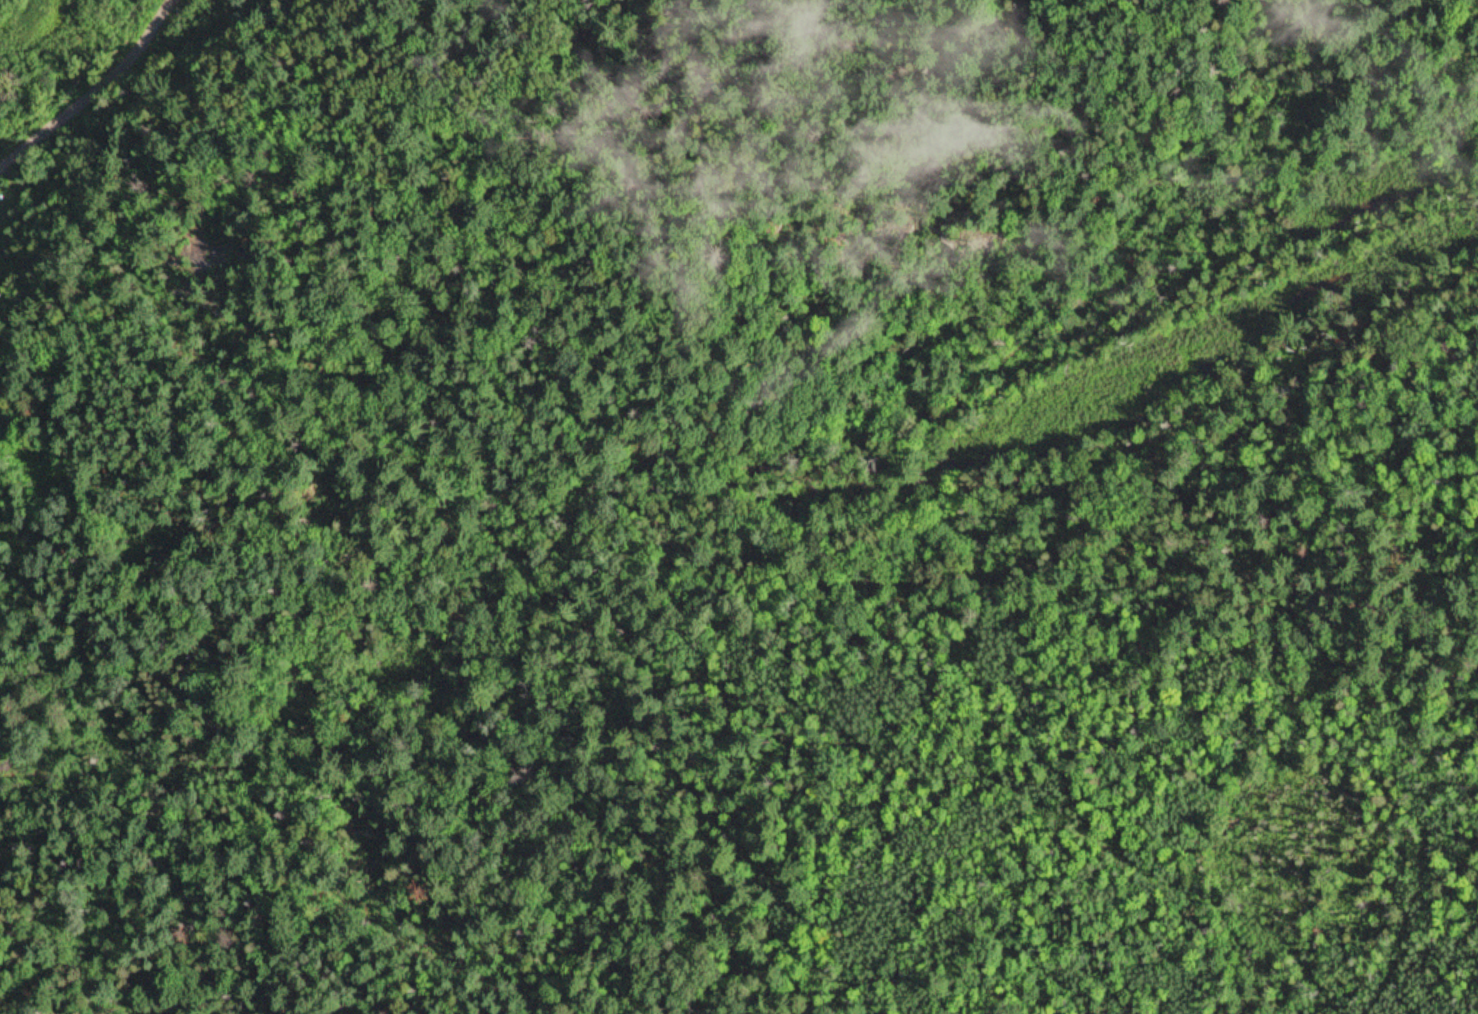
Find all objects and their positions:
road: (93, 93)

